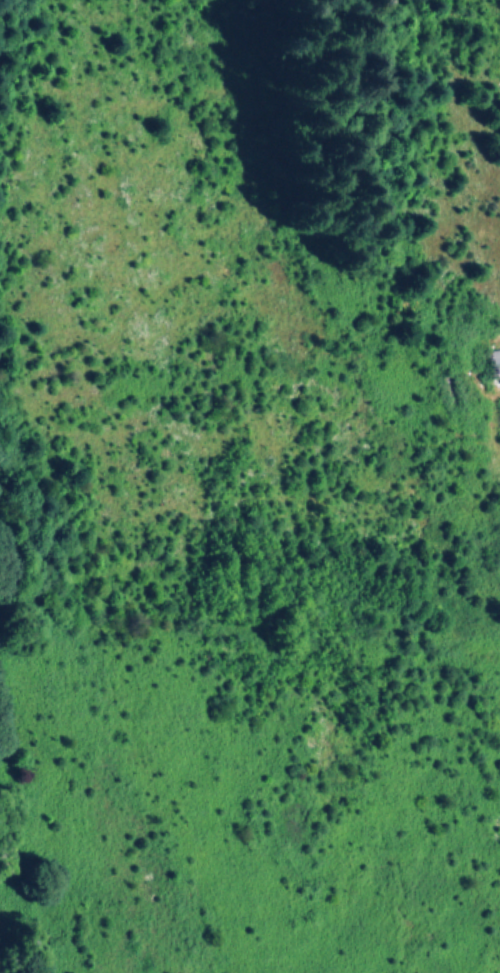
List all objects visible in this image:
building: (496, 365)
road: (495, 457)

